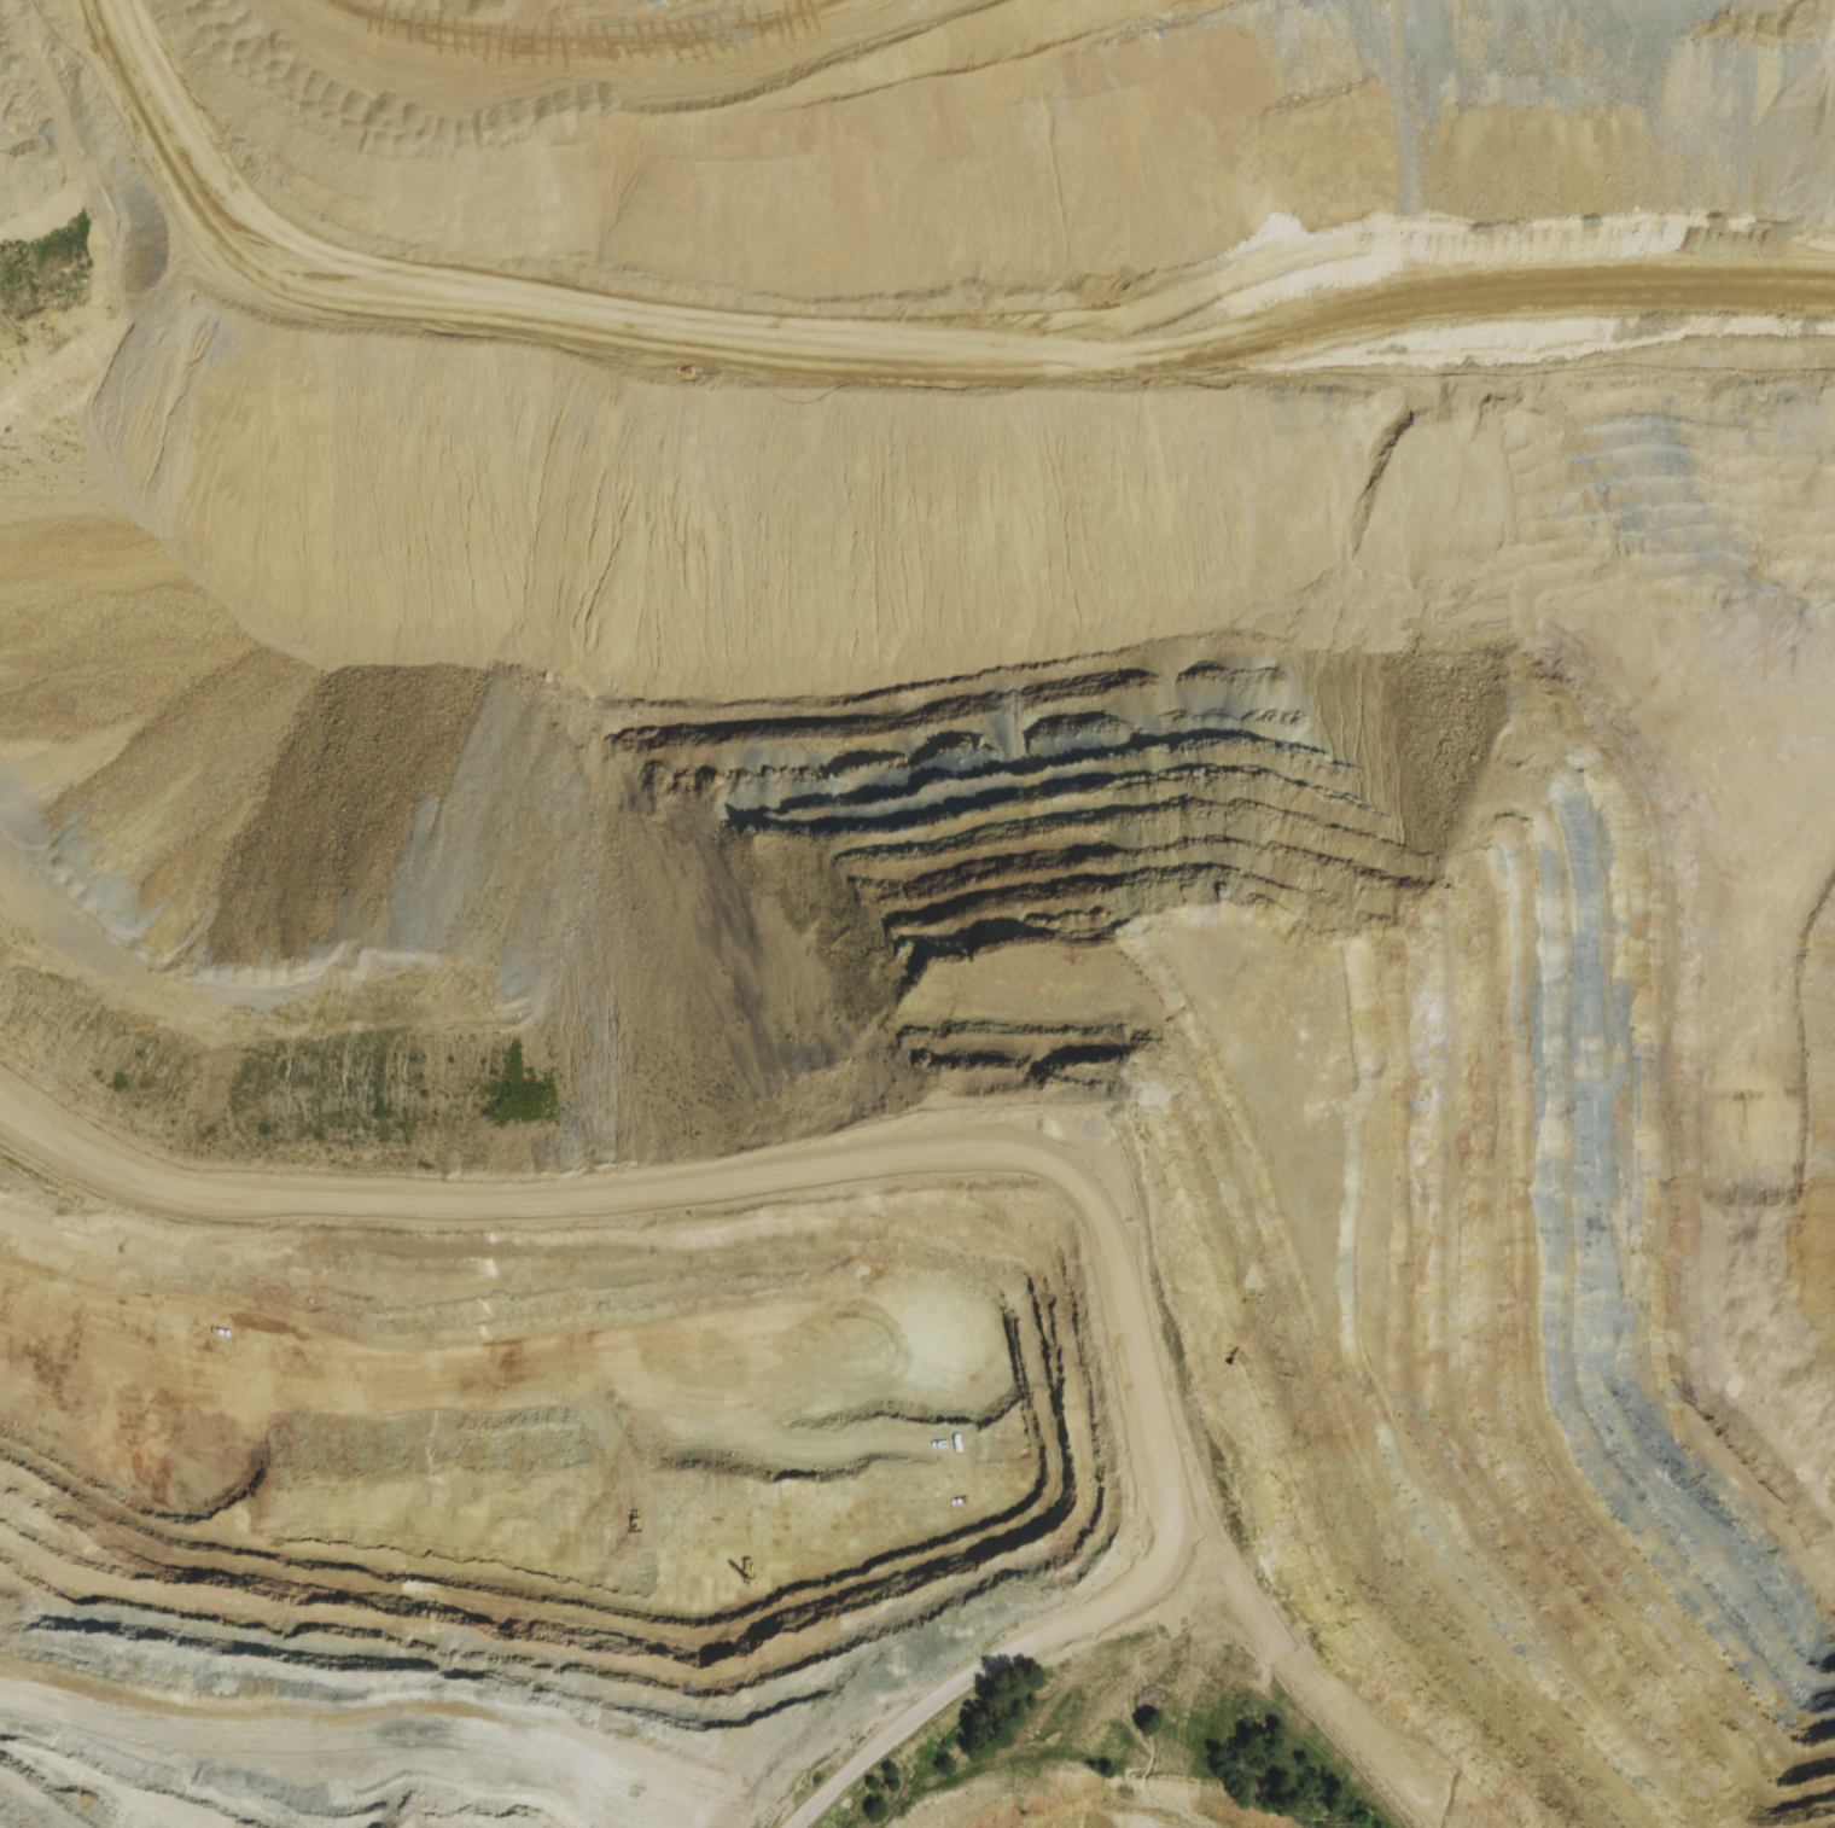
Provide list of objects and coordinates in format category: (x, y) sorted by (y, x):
quarry: (949, 774)
parking lot: (1096, 1153)
building: (581, 1465)
building: (629, 1466)
building: (847, 1671)
road: (4, 1827)

